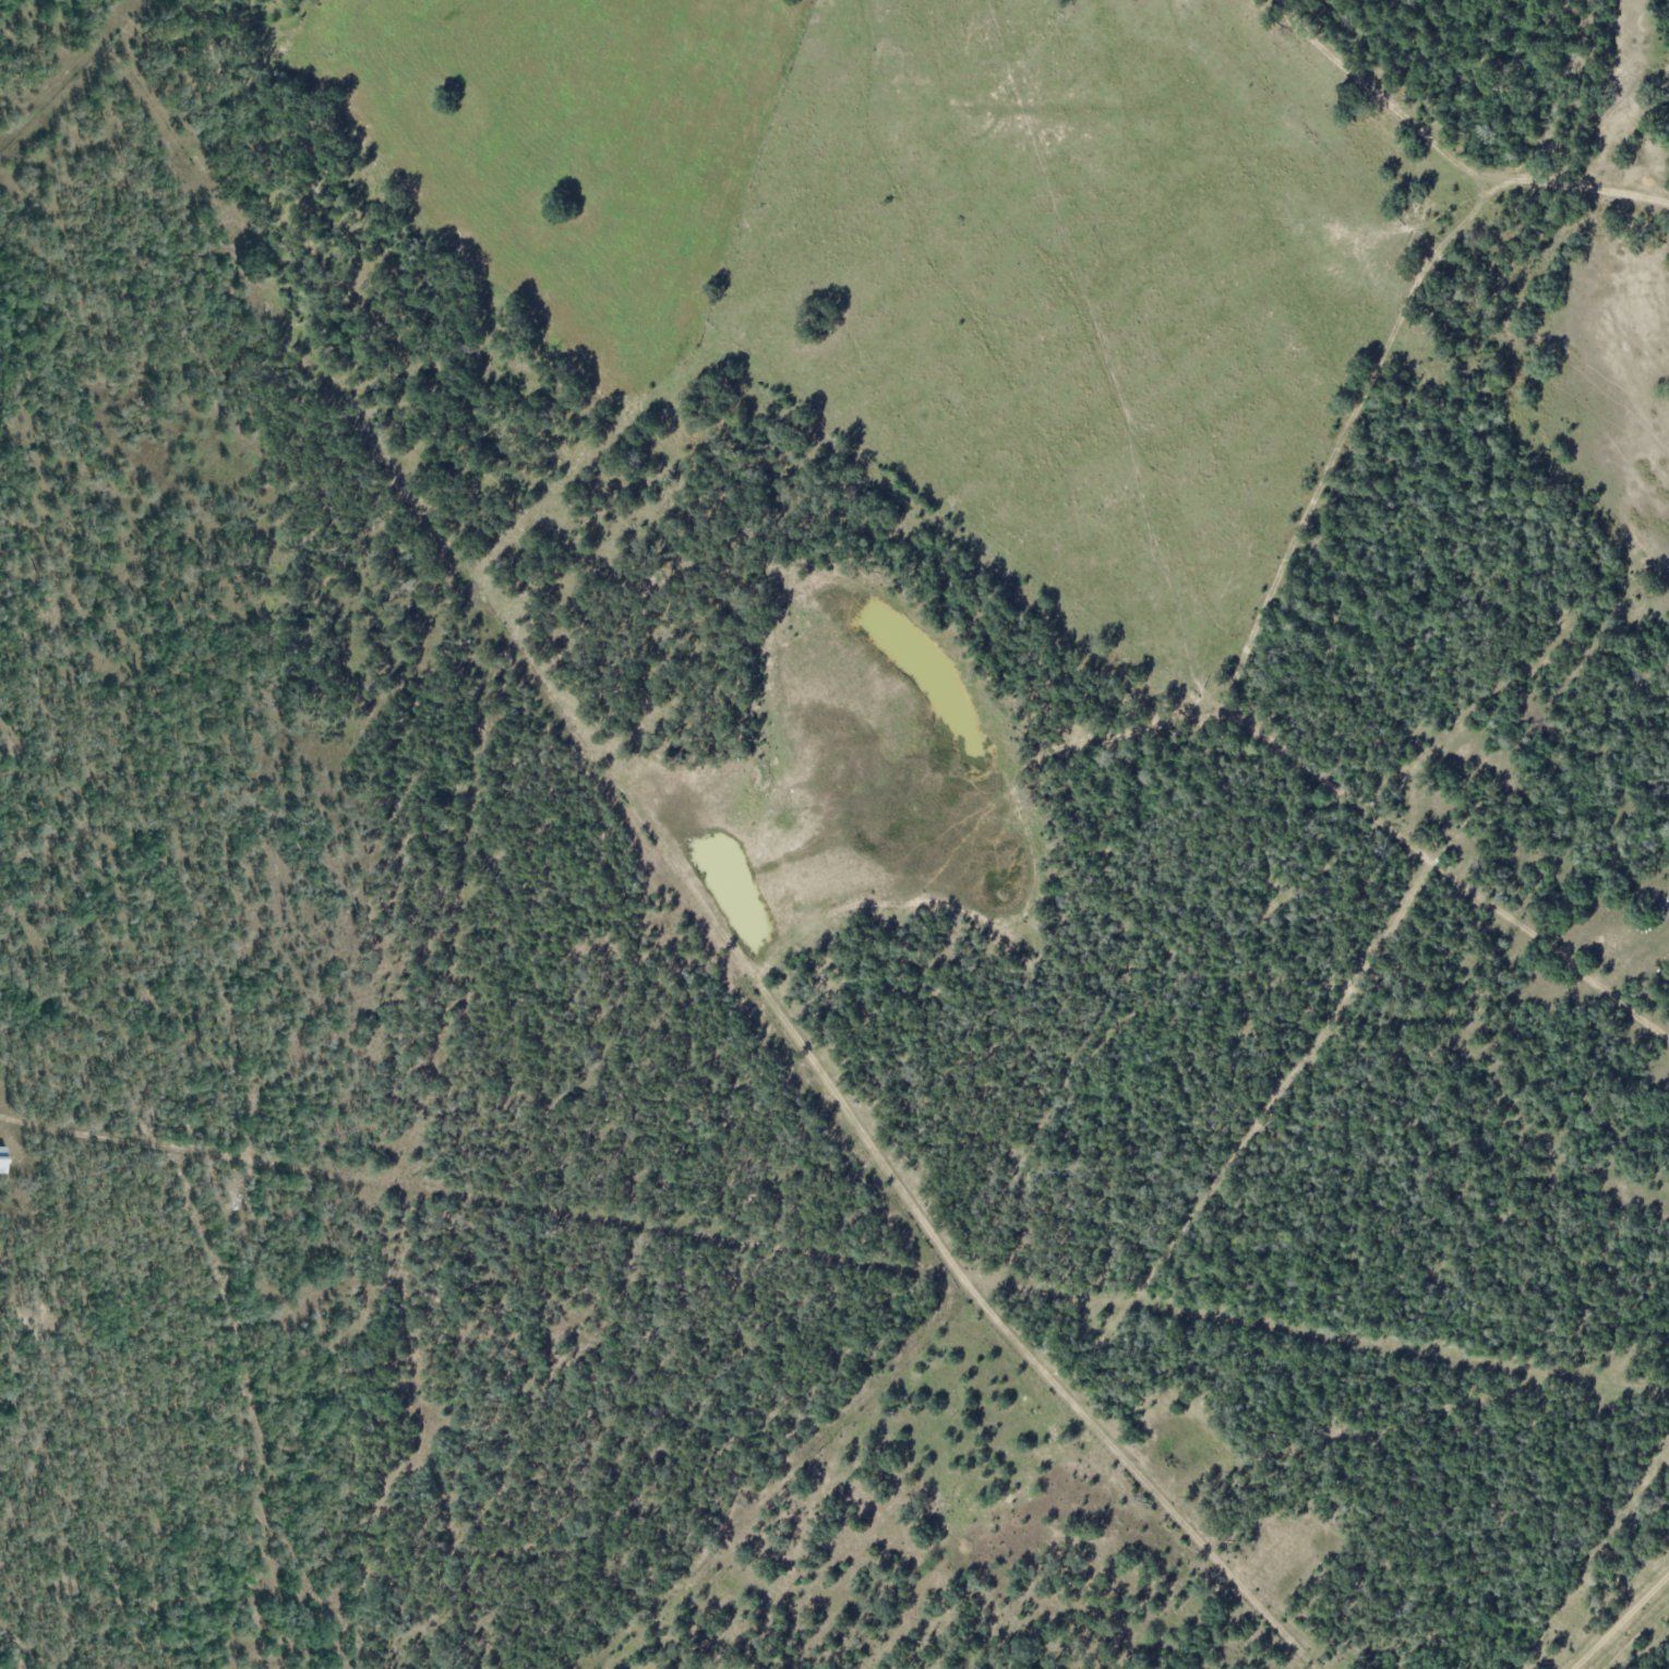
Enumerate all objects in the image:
building: (2, 1158)
road: (1649, 1650)

